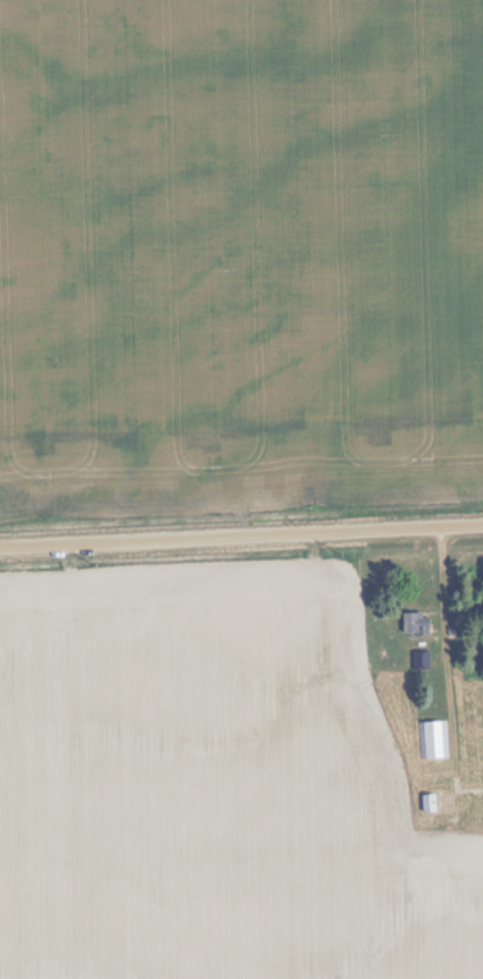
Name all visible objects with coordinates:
crop: (239, 263)
road: (241, 535)
building: (414, 625)
building: (435, 740)
building: (442, 802)

